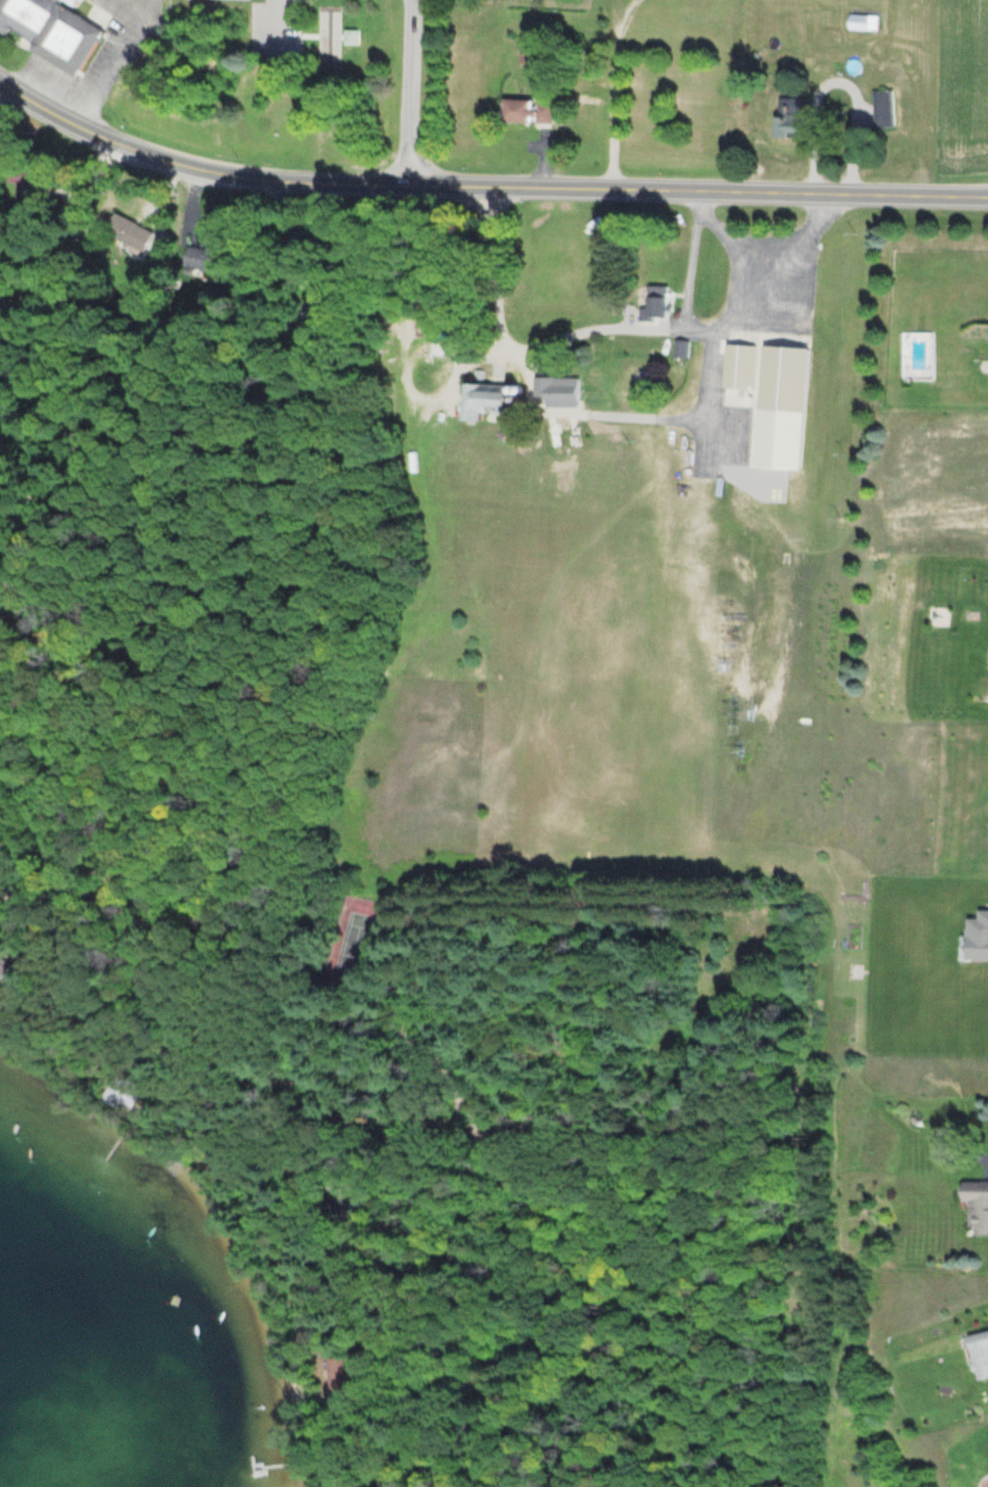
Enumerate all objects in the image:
building: (26, 13)
building: (861, 21)
road: (293, 23)
parking lot: (268, 24)
building: (66, 36)
parking lot: (94, 55)
park: (232, 74)
road: (409, 91)
building: (880, 108)
building: (524, 110)
building: (788, 115)
building: (24, 175)
road: (483, 184)
building: (126, 230)
building: (1, 239)
road: (691, 255)
building: (653, 305)
building: (315, 319)
building: (443, 330)
building: (736, 365)
building: (781, 377)
building: (553, 386)
road: (46, 390)
building: (483, 398)
park: (351, 936)
road: (394, 1031)
building: (122, 1094)
building: (341, 1183)
building: (975, 1204)
building: (978, 1352)
building: (339, 1374)

